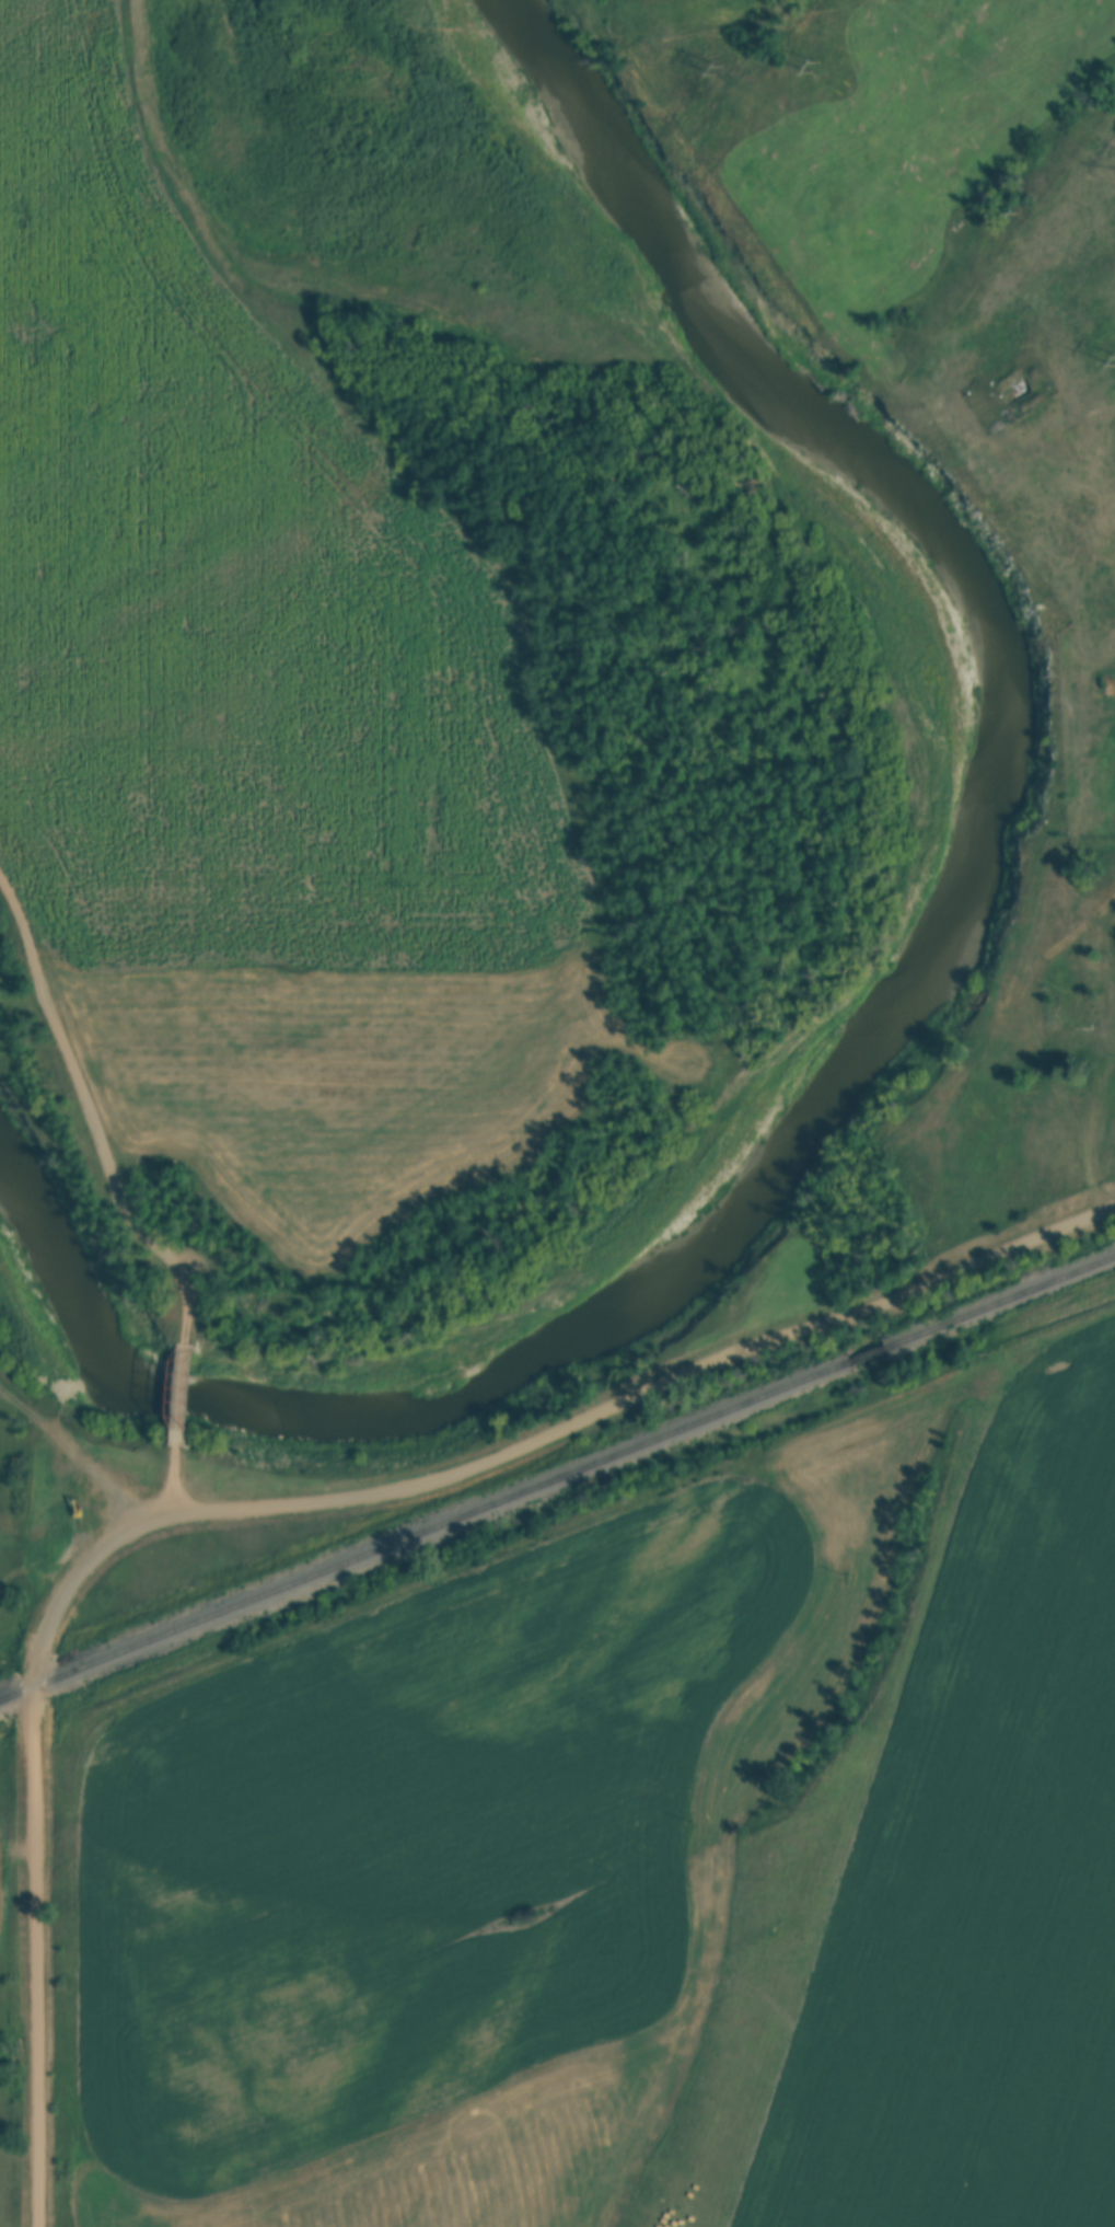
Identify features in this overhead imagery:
road: (90, 1117)
road: (179, 1393)
road: (544, 1442)
railway: (557, 1479)
road: (174, 1482)
road: (48, 1560)
road: (36, 1957)

